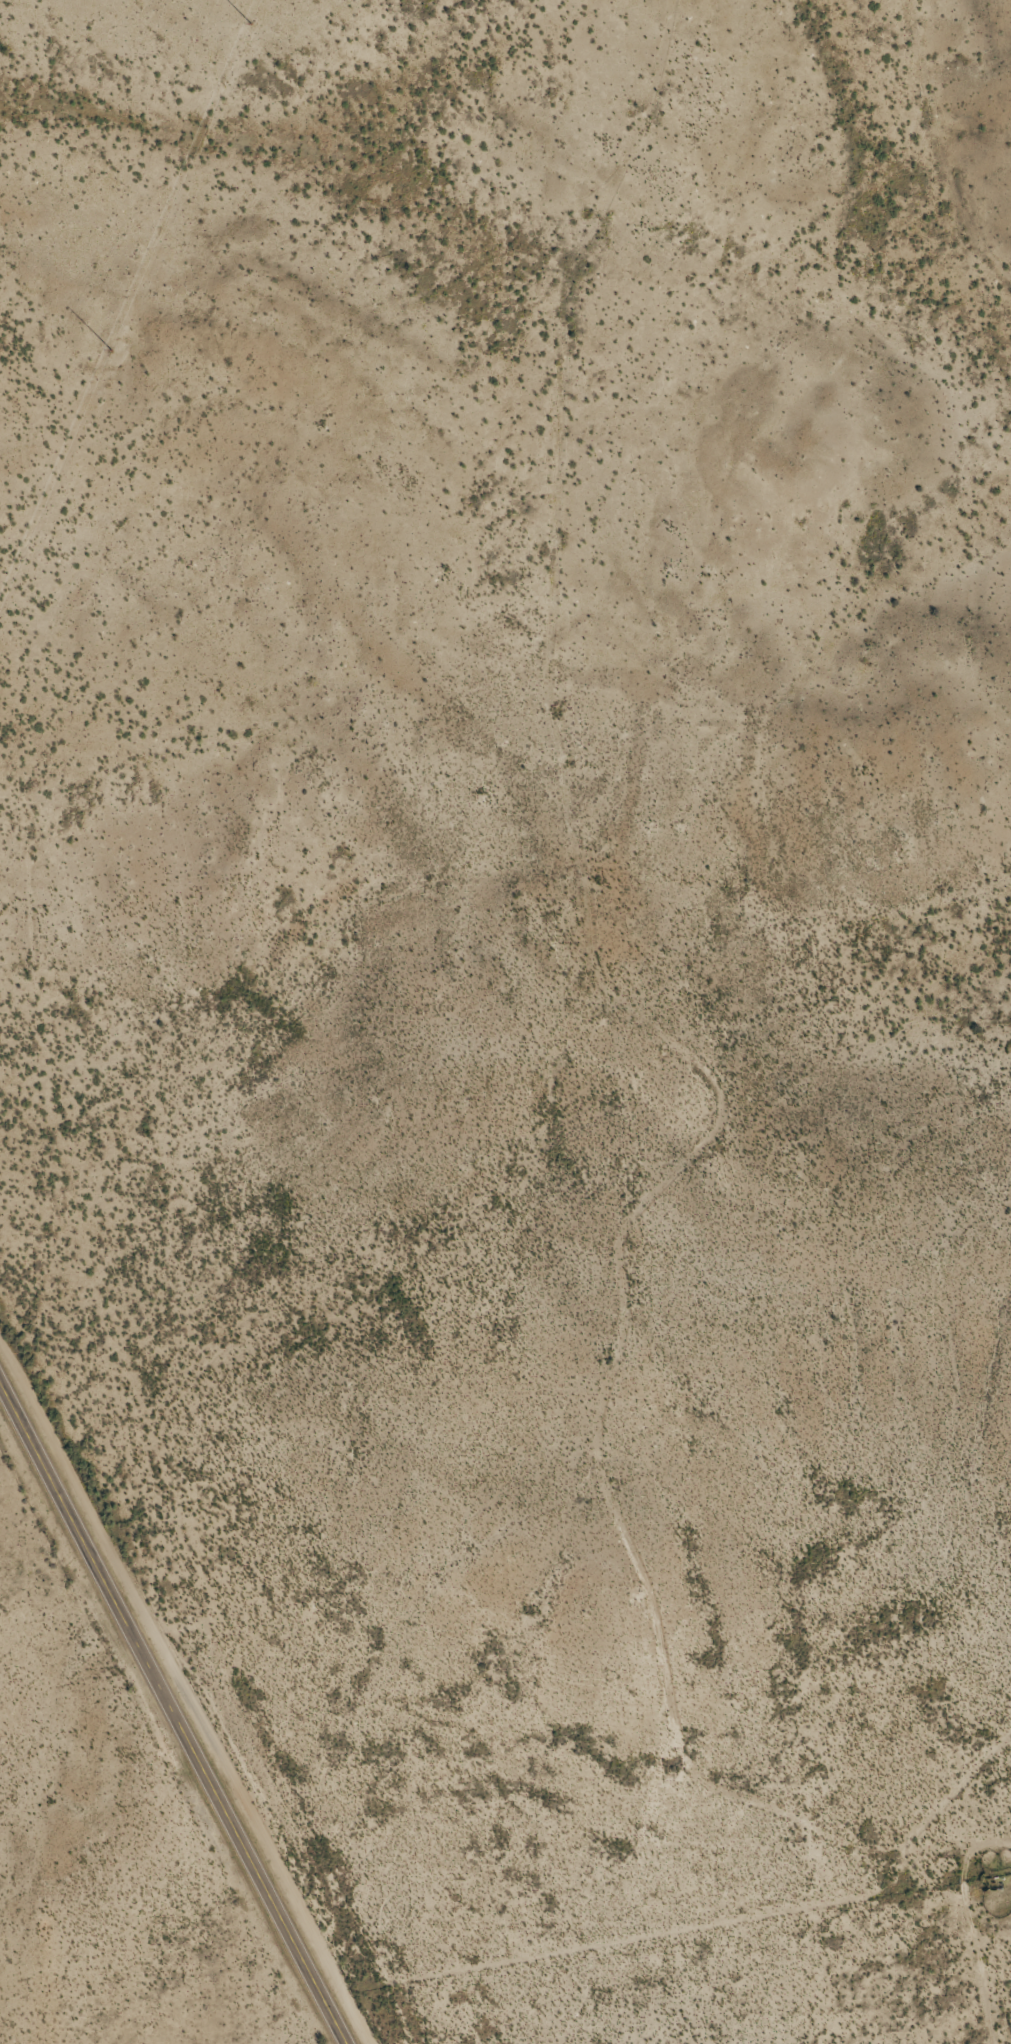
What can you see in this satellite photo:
power tower: (250, 24)
road: (956, 138)
power tower: (111, 350)
road: (691, 1036)
road: (174, 1711)

